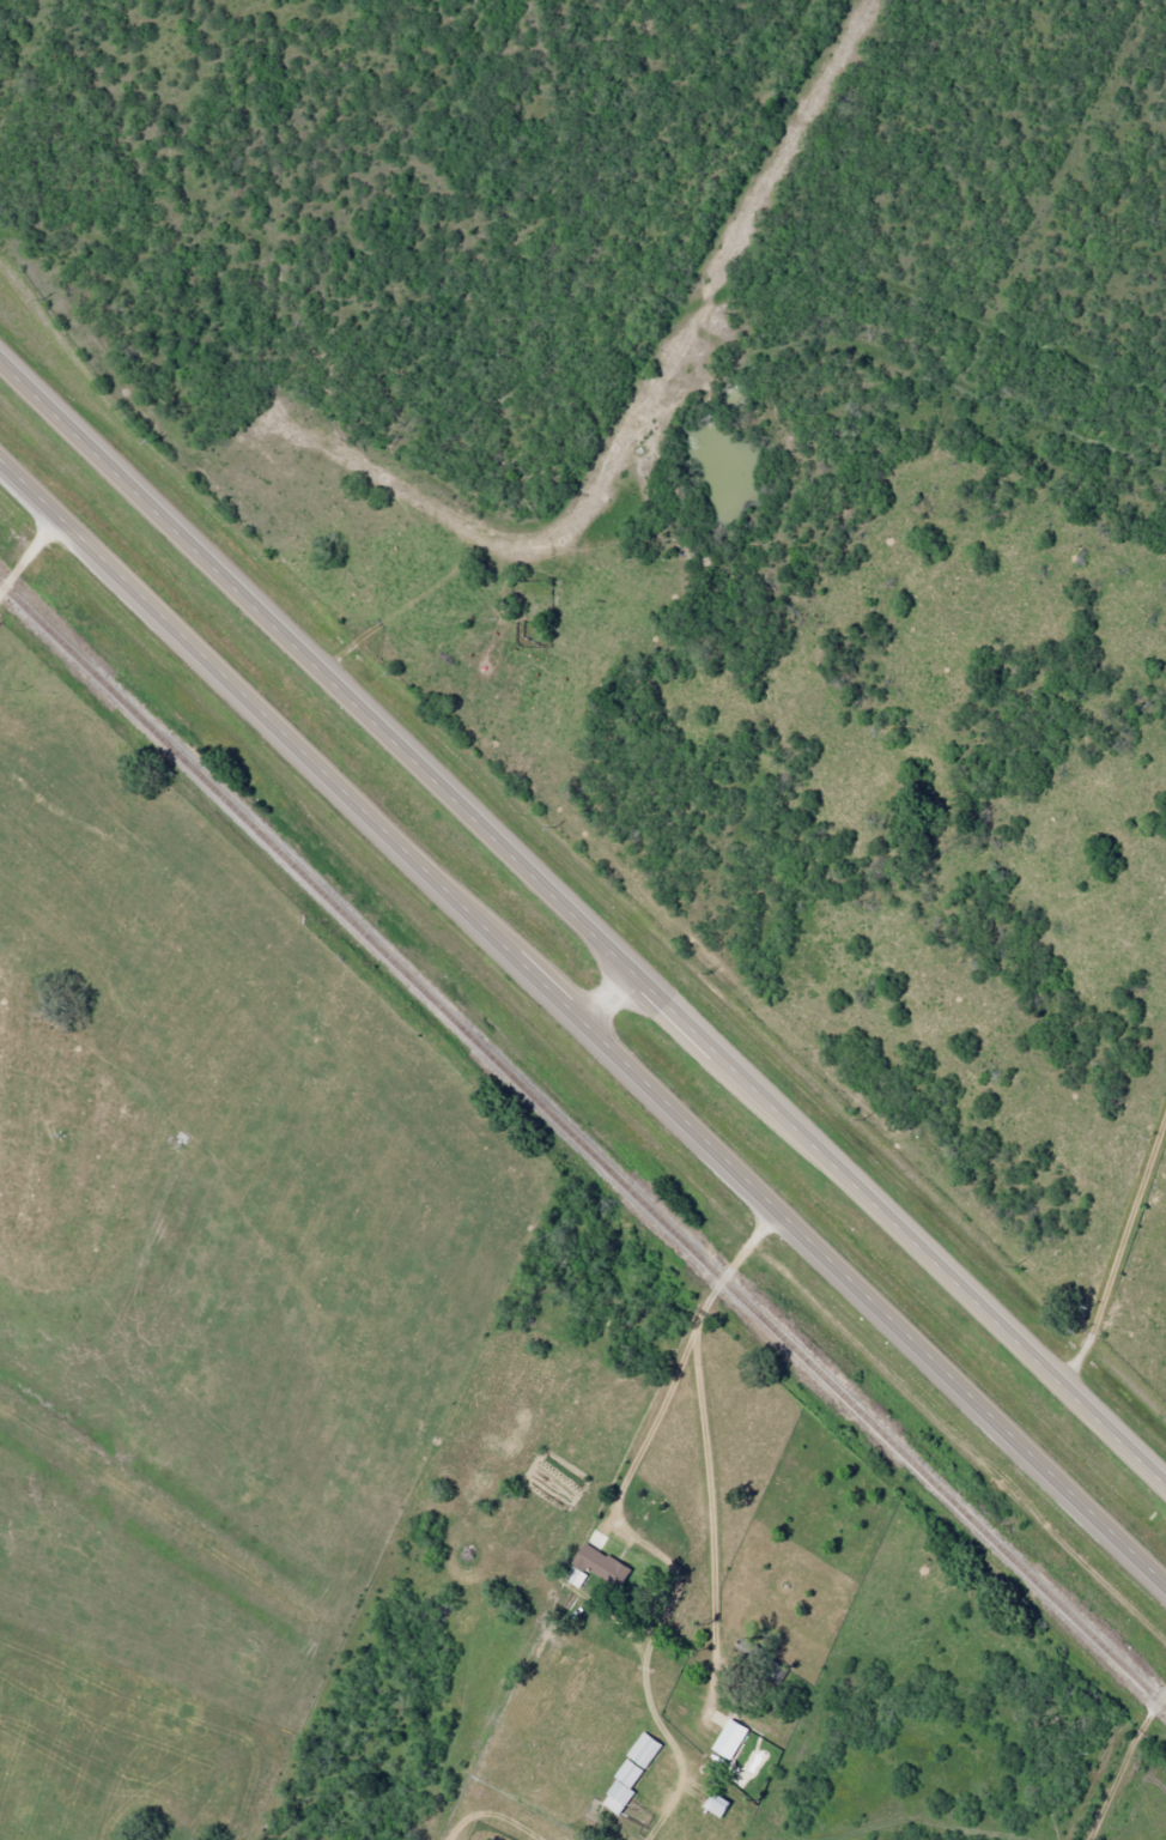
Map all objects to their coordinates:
road: (26, 552)
road: (587, 918)
road: (609, 993)
road: (583, 1023)
railway: (583, 1146)
road: (1115, 1245)
building: (593, 1567)
building: (727, 1739)
building: (642, 1750)
road: (1121, 1761)
building: (619, 1786)
building: (713, 1804)

